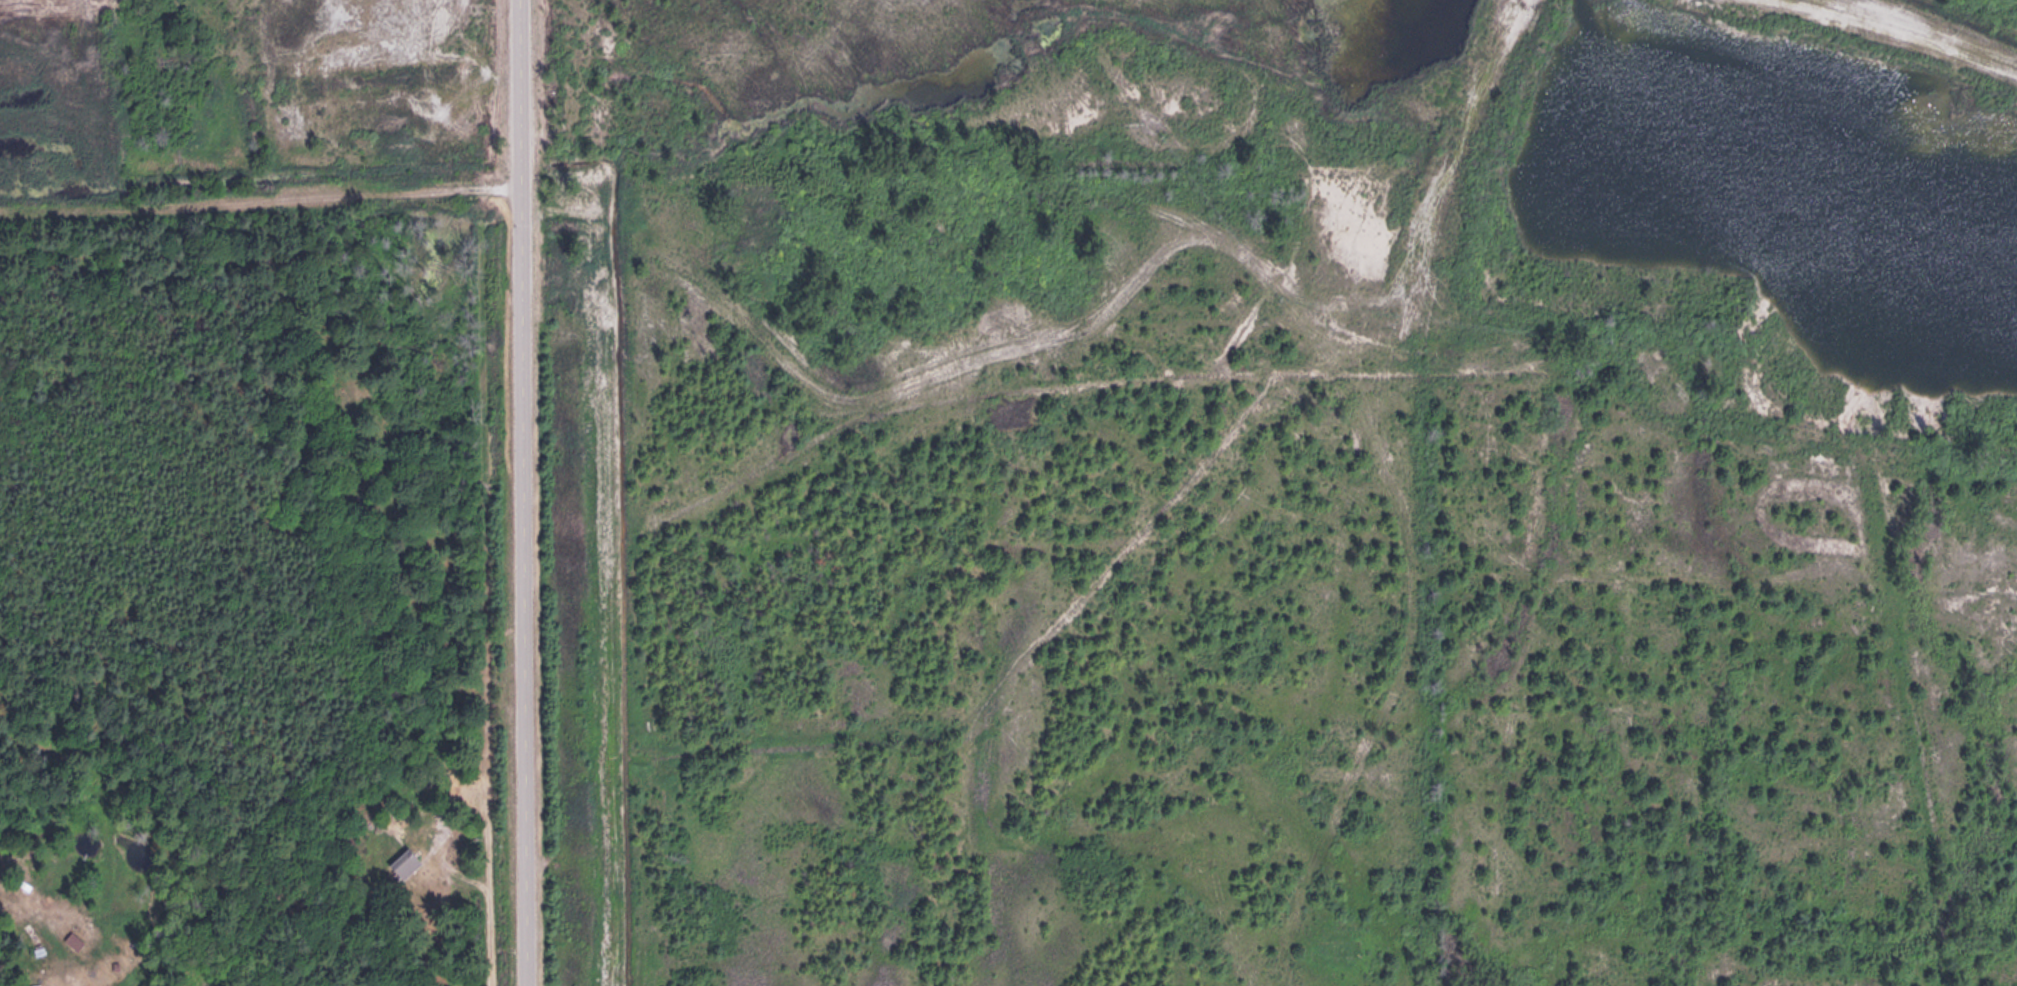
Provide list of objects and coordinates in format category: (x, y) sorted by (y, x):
road: (1895, 25)
road: (524, 493)
building: (404, 861)
building: (33, 984)

